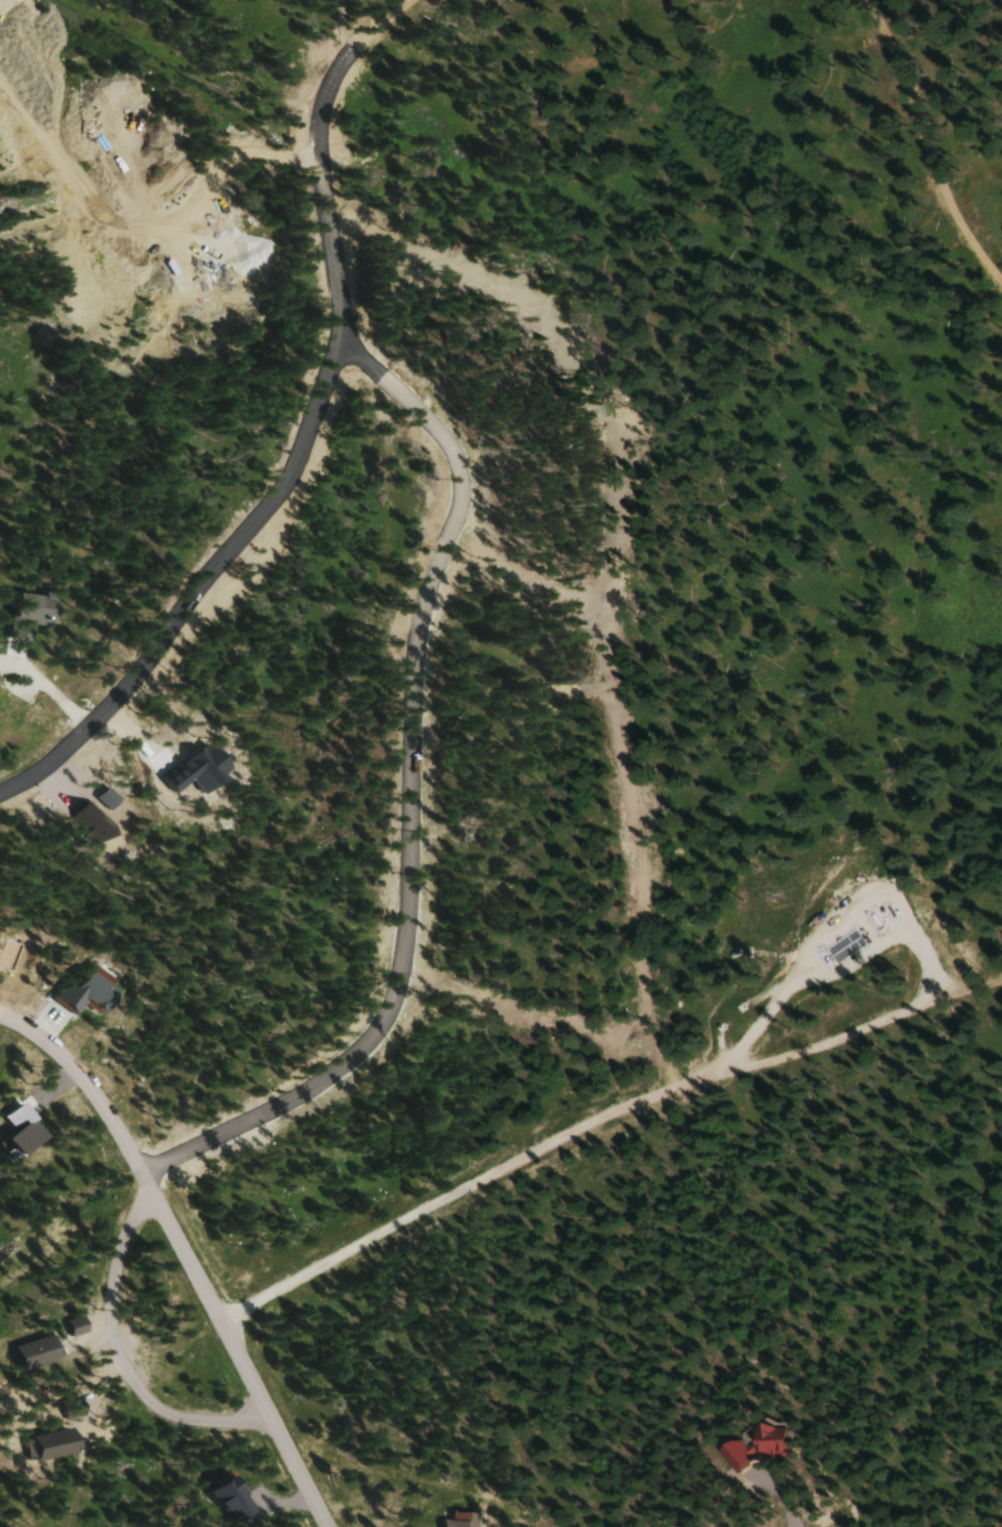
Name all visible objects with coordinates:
road: (339, 24)
road: (924, 143)
road: (146, 240)
road: (307, 433)
road: (412, 801)
road: (835, 922)
road: (600, 1122)
road: (184, 1253)
road: (117, 1360)
building: (751, 1446)

